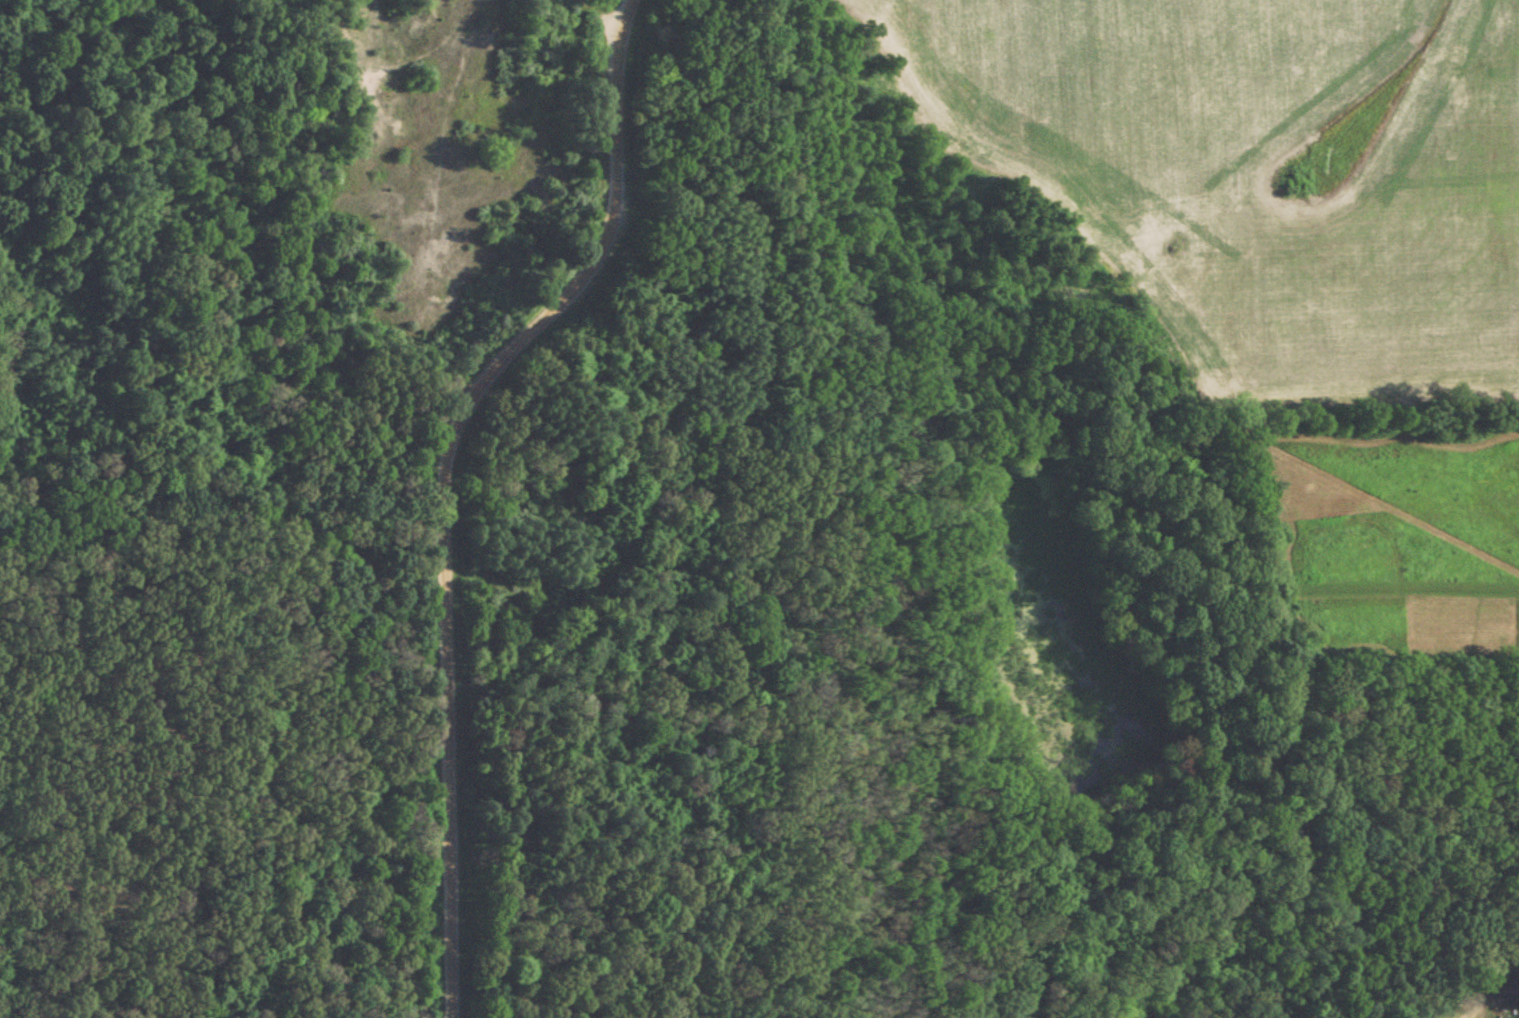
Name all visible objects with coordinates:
road: (307, 202)
road: (446, 478)
road: (64, 653)
road: (304, 811)
building: (1500, 993)

